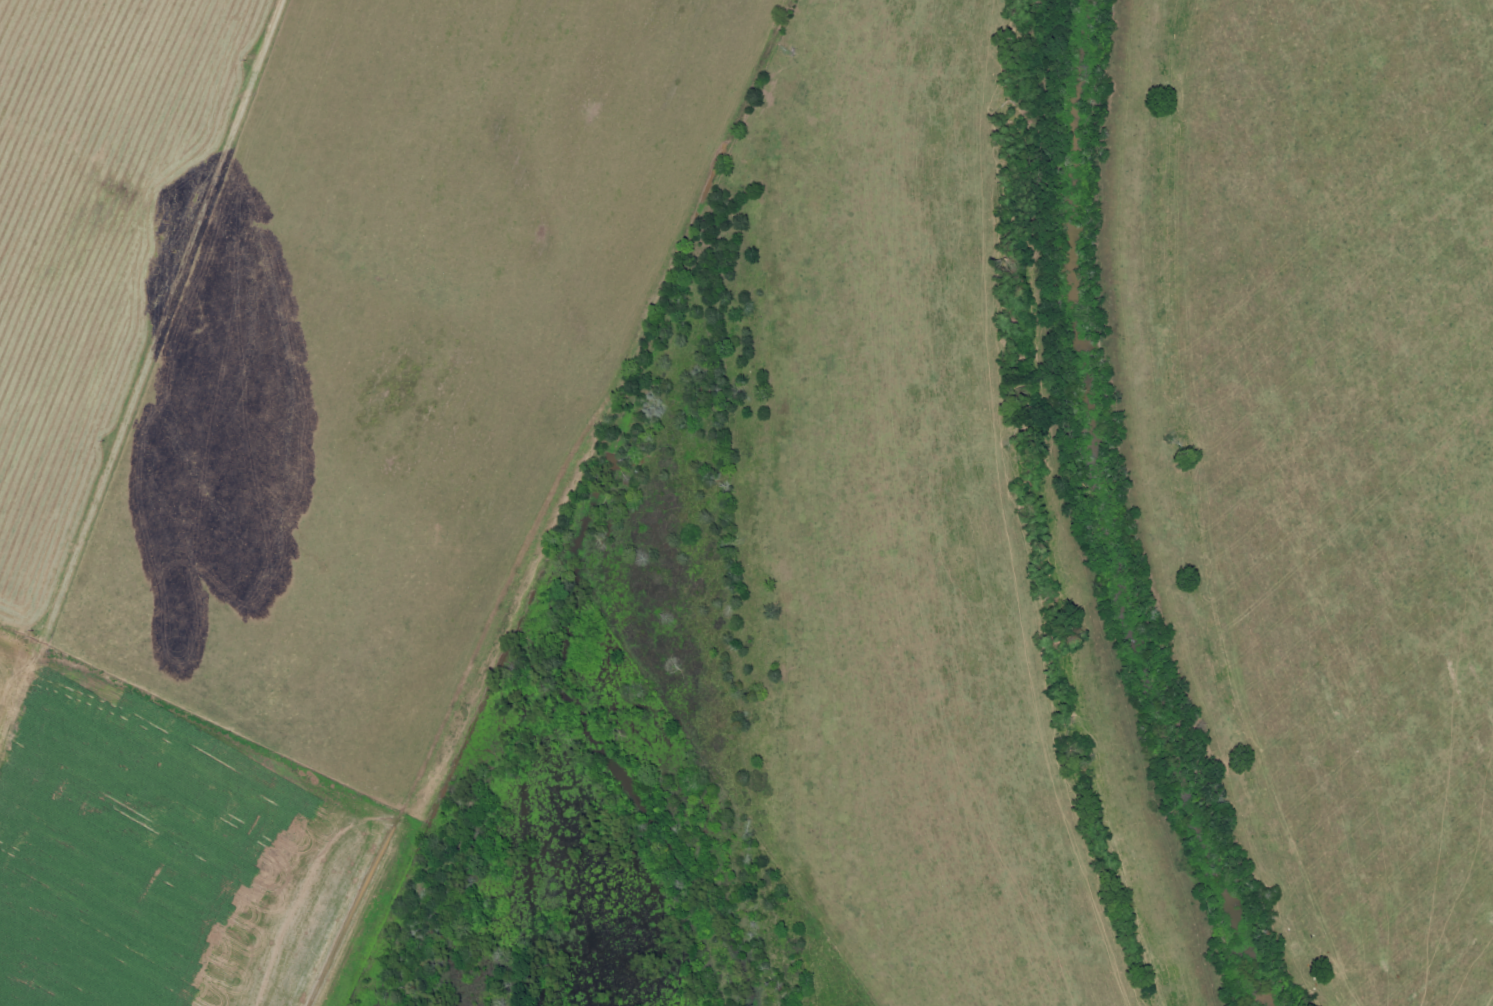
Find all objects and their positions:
road: (132, 374)

